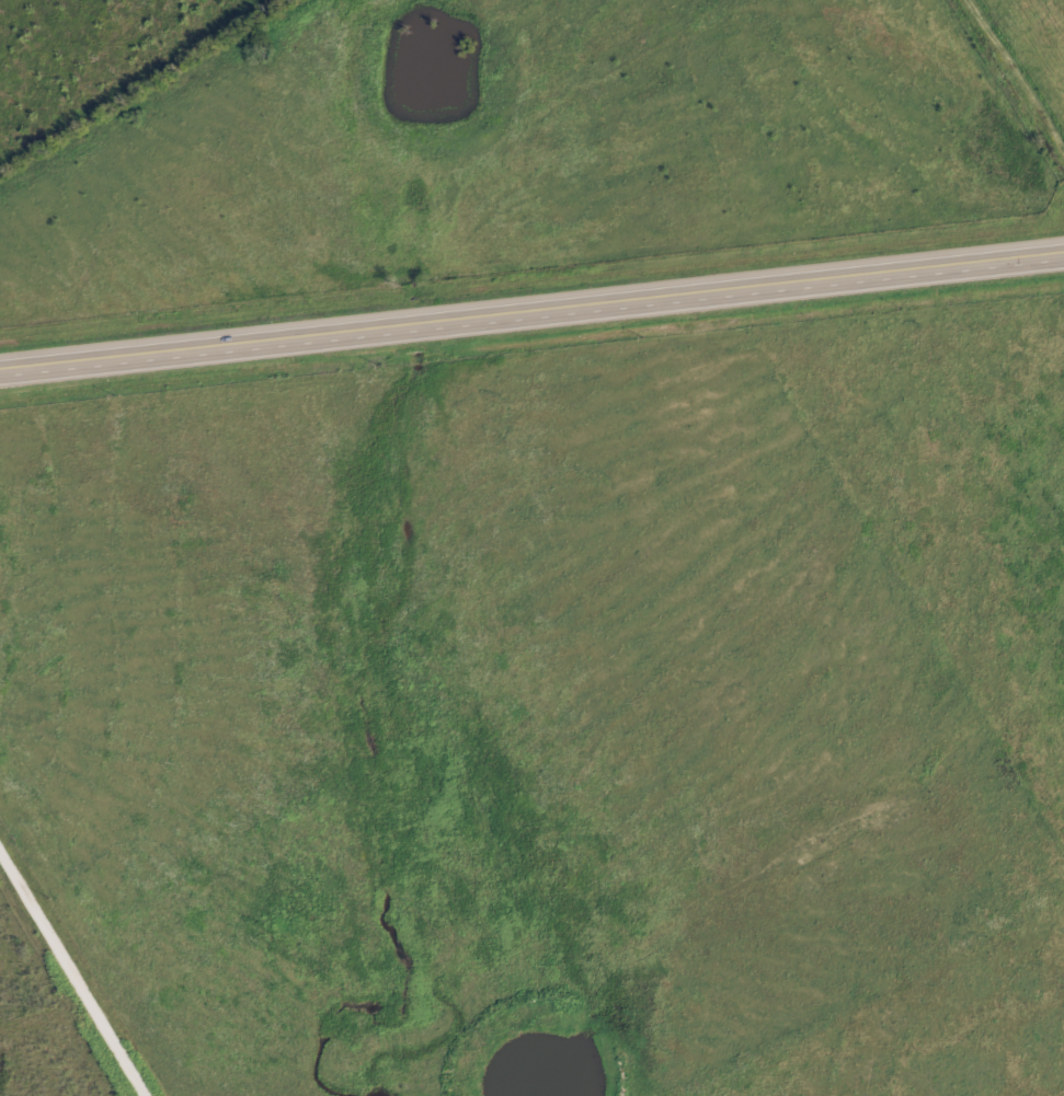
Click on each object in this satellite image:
road: (1010, 84)
road: (531, 303)
road: (76, 968)

